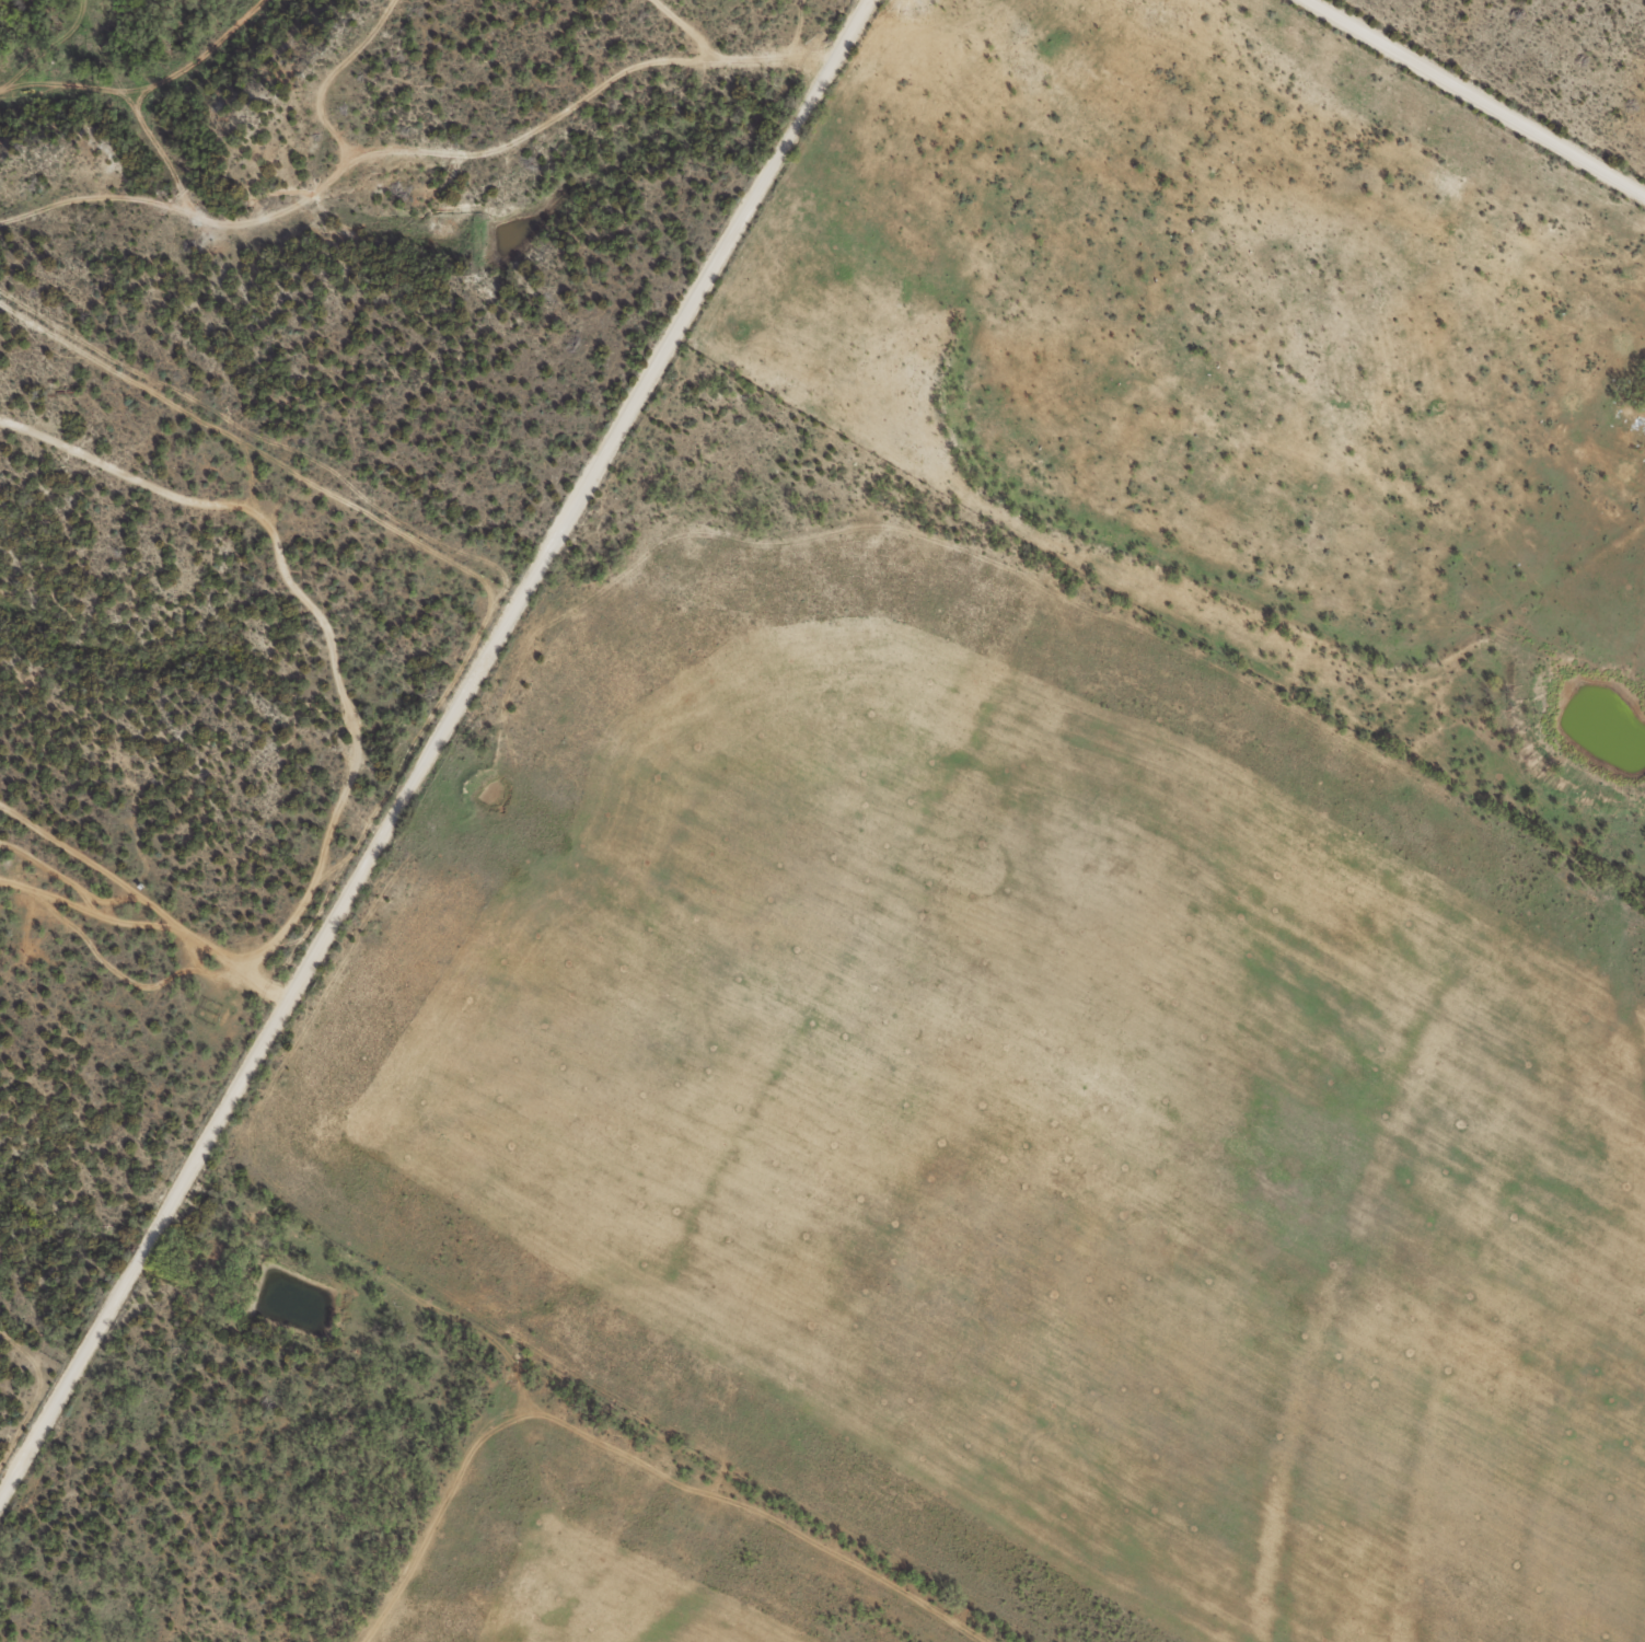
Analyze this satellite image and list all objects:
road: (1495, 90)
road: (424, 176)
road: (441, 785)
road: (639, 1410)

